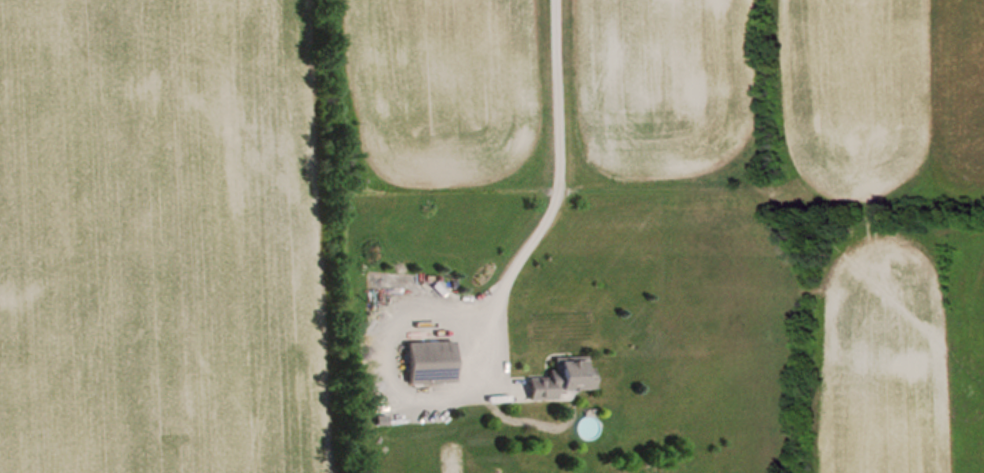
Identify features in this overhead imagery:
road: (555, 202)
building: (434, 362)
building: (565, 377)

